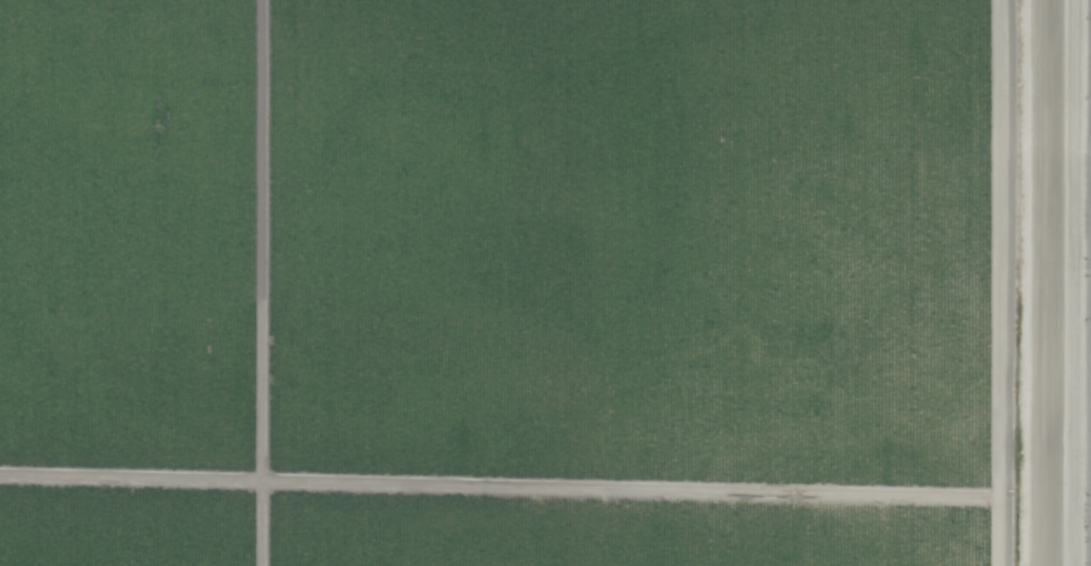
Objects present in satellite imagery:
crop: (545, 282)

